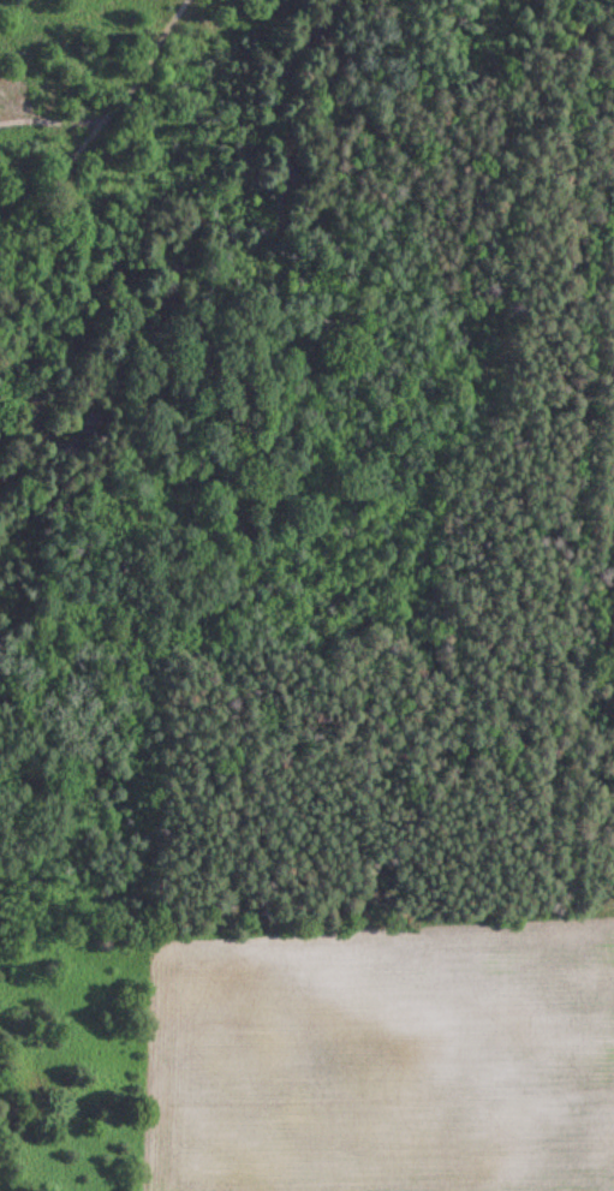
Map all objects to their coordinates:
crop: (383, 1059)

